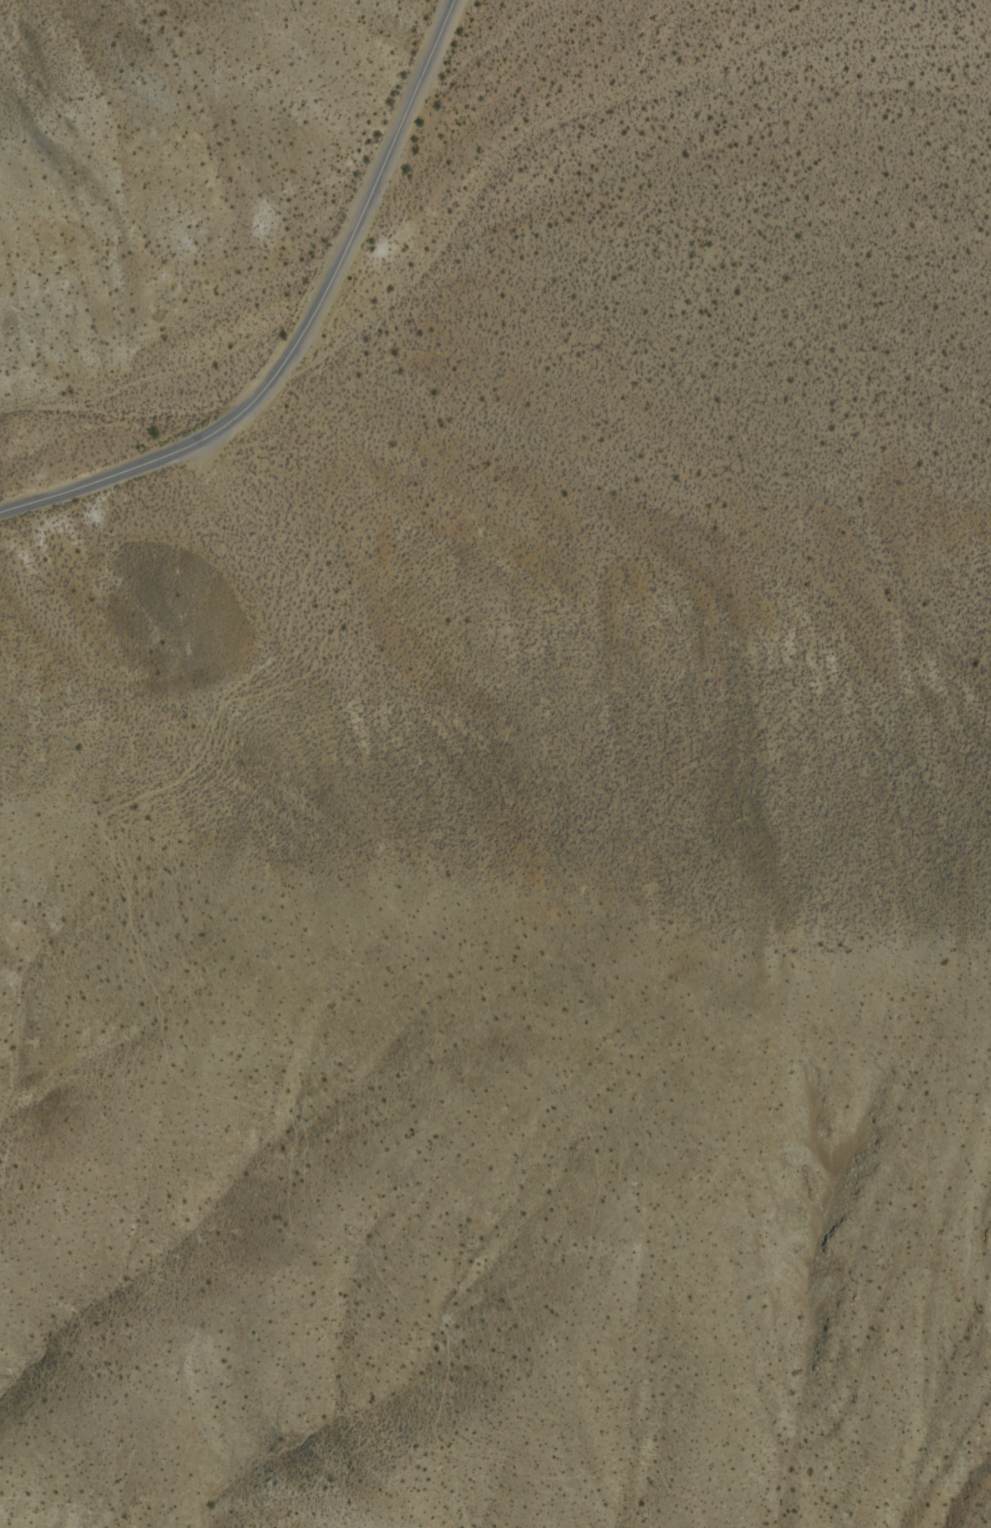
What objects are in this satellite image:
road: (301, 332)

